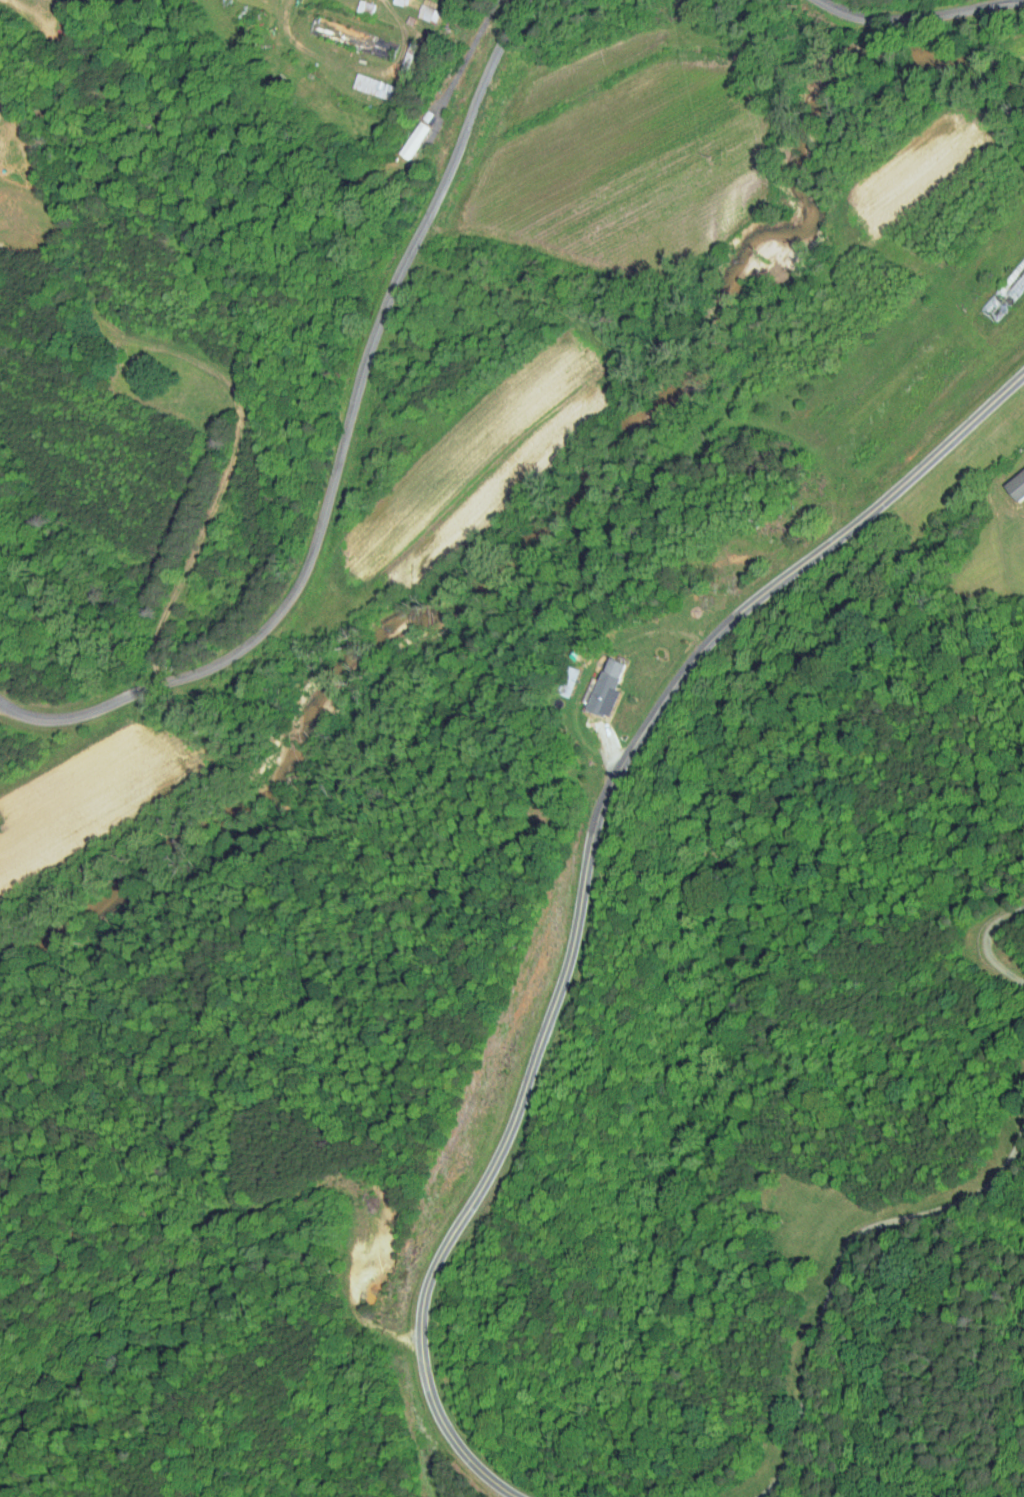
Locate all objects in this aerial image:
building: (390, 0)
building: (399, 2)
building: (366, 7)
building: (417, 8)
building: (429, 12)
road: (923, 15)
building: (353, 37)
road: (468, 50)
building: (408, 55)
building: (374, 86)
building: (403, 134)
building: (417, 135)
building: (379, 181)
building: (1006, 294)
road: (341, 449)
building: (1009, 478)
building: (1017, 486)
building: (755, 522)
building: (569, 681)
building: (594, 682)
building: (607, 689)
road: (584, 878)
road: (986, 943)
road: (839, 1264)

